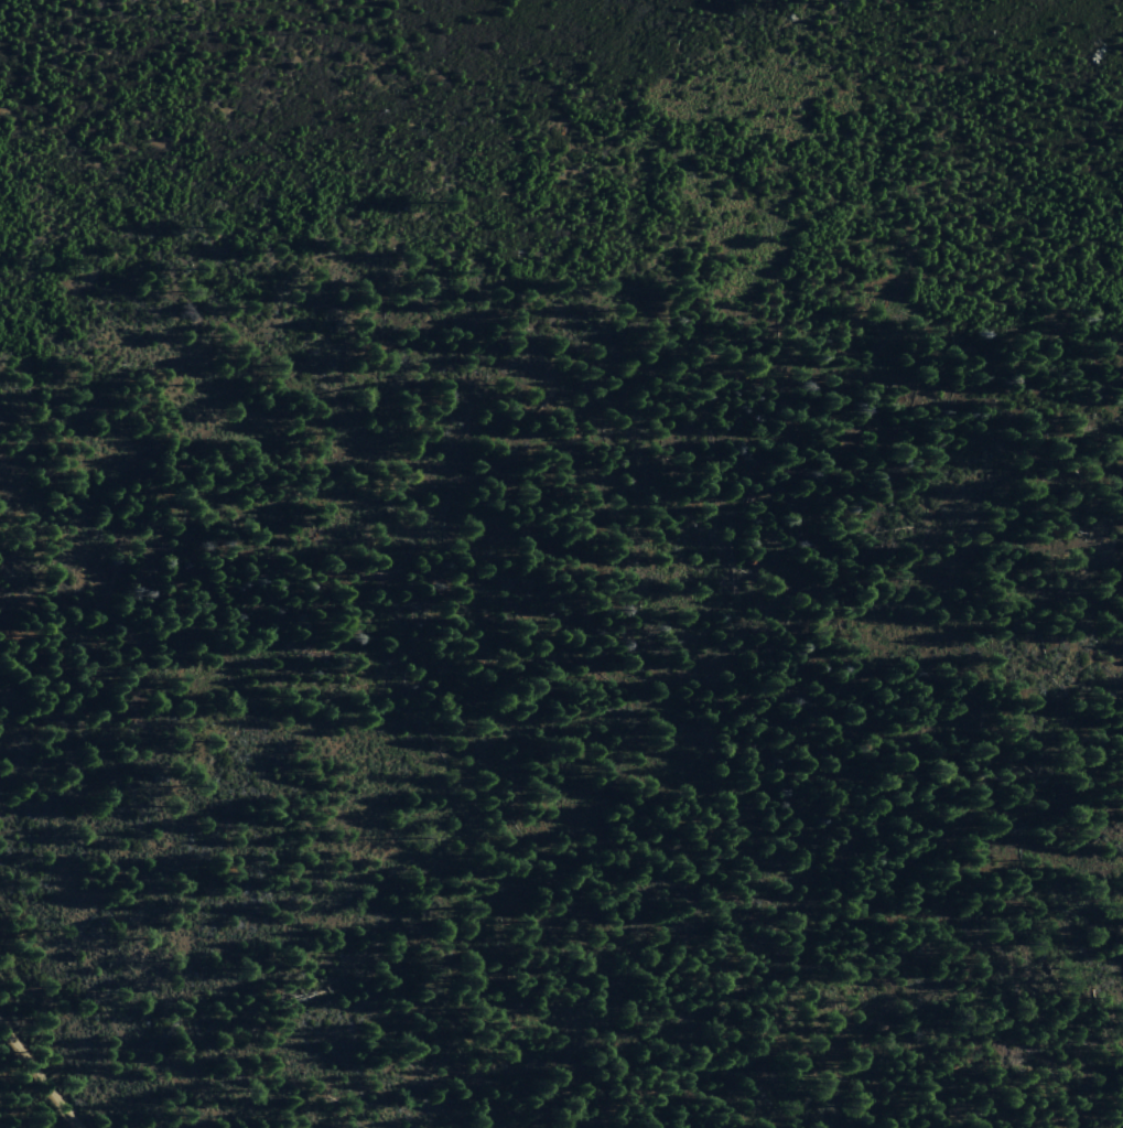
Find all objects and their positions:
road: (40, 1074)

